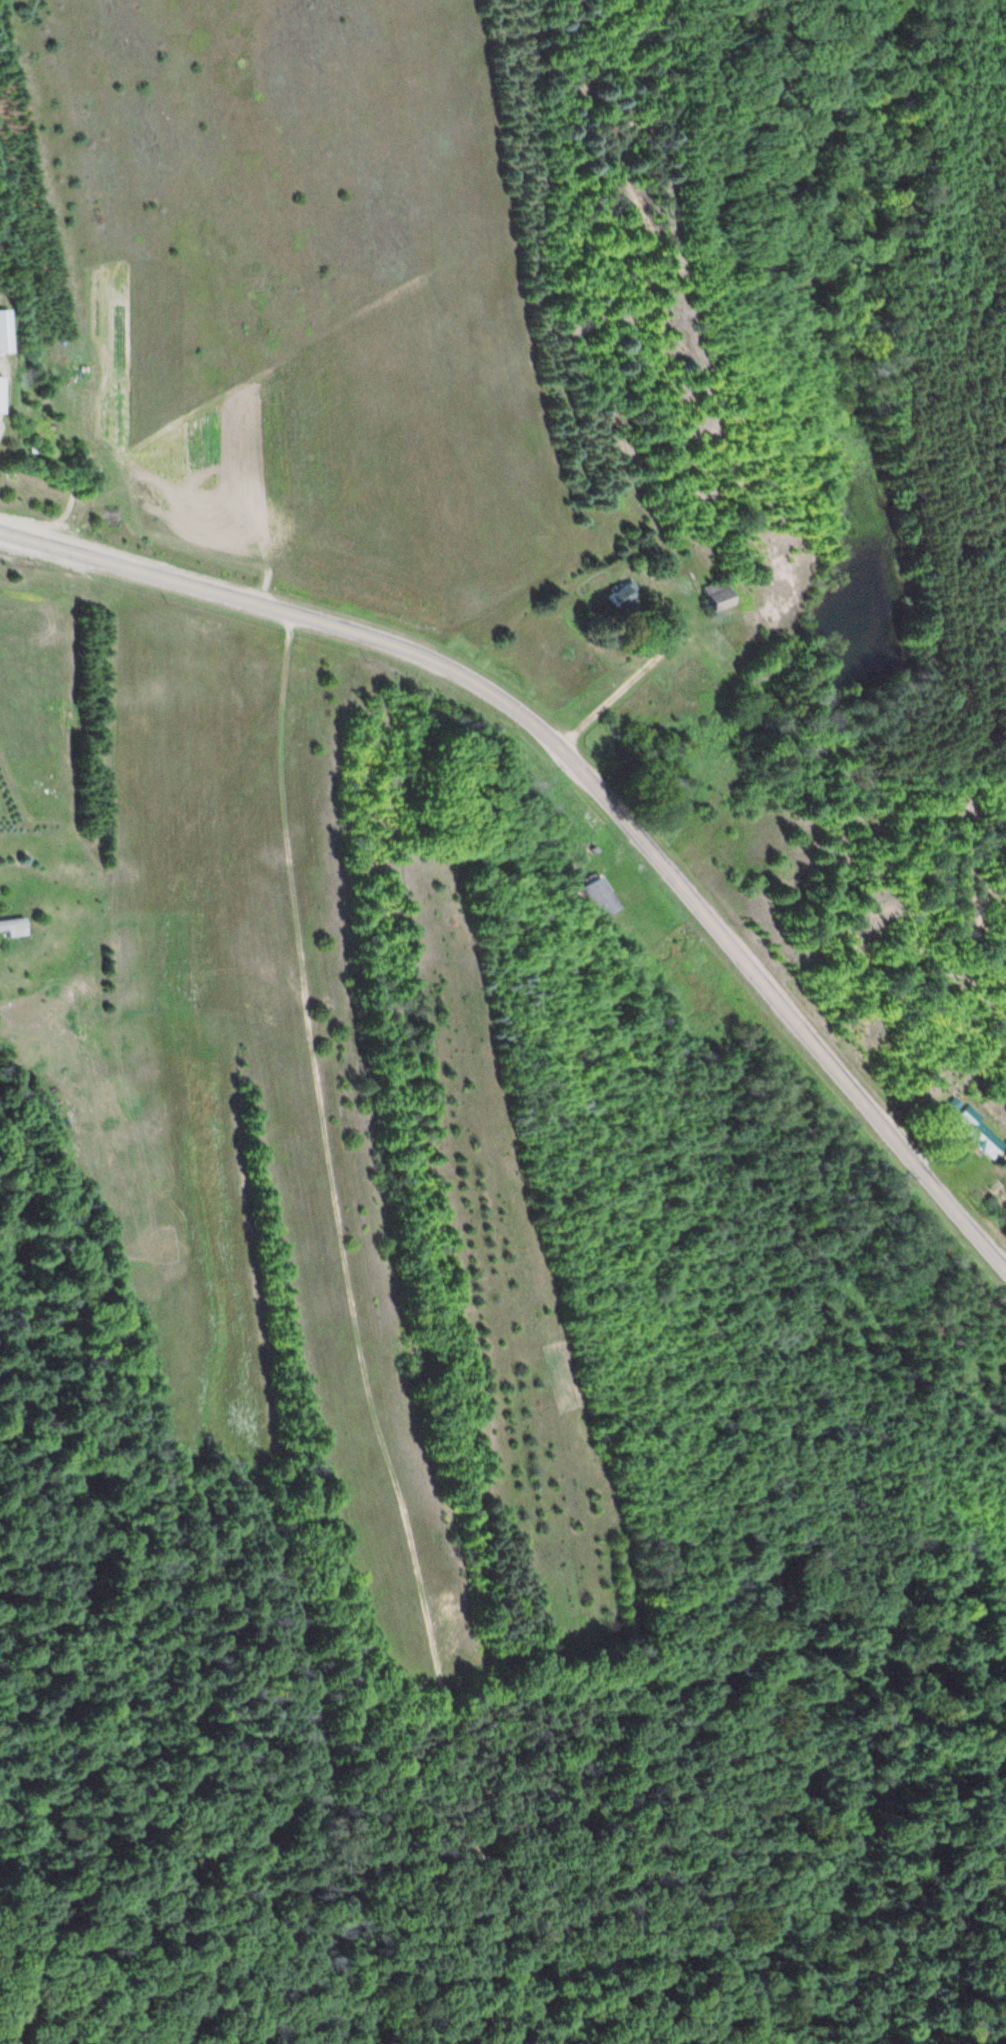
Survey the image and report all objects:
building: (4, 332)
building: (0, 395)
building: (714, 596)
building: (621, 598)
building: (752, 676)
road: (585, 777)
building: (600, 898)
building: (12, 928)
building: (978, 1133)

